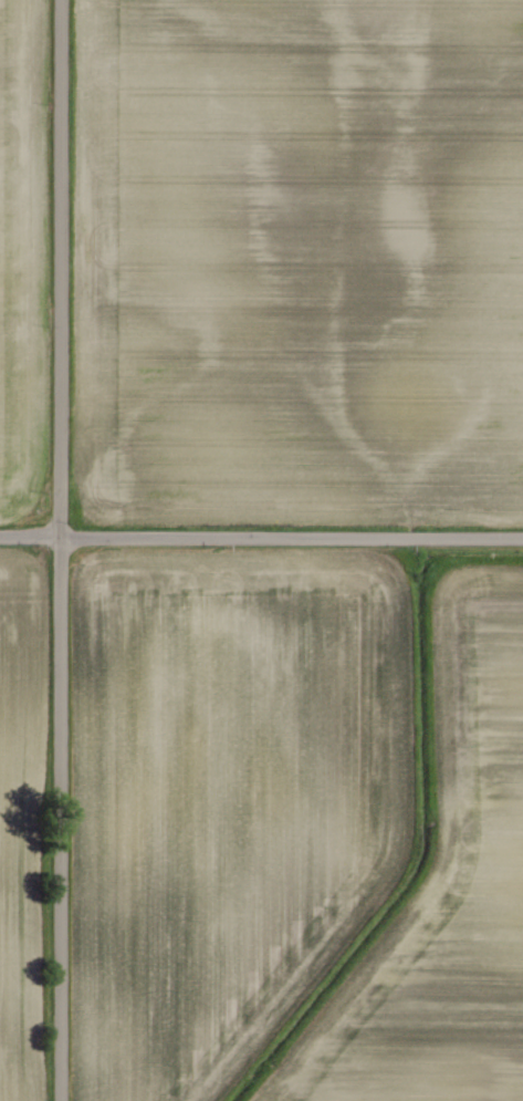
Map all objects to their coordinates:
road: (261, 536)
road: (59, 550)

